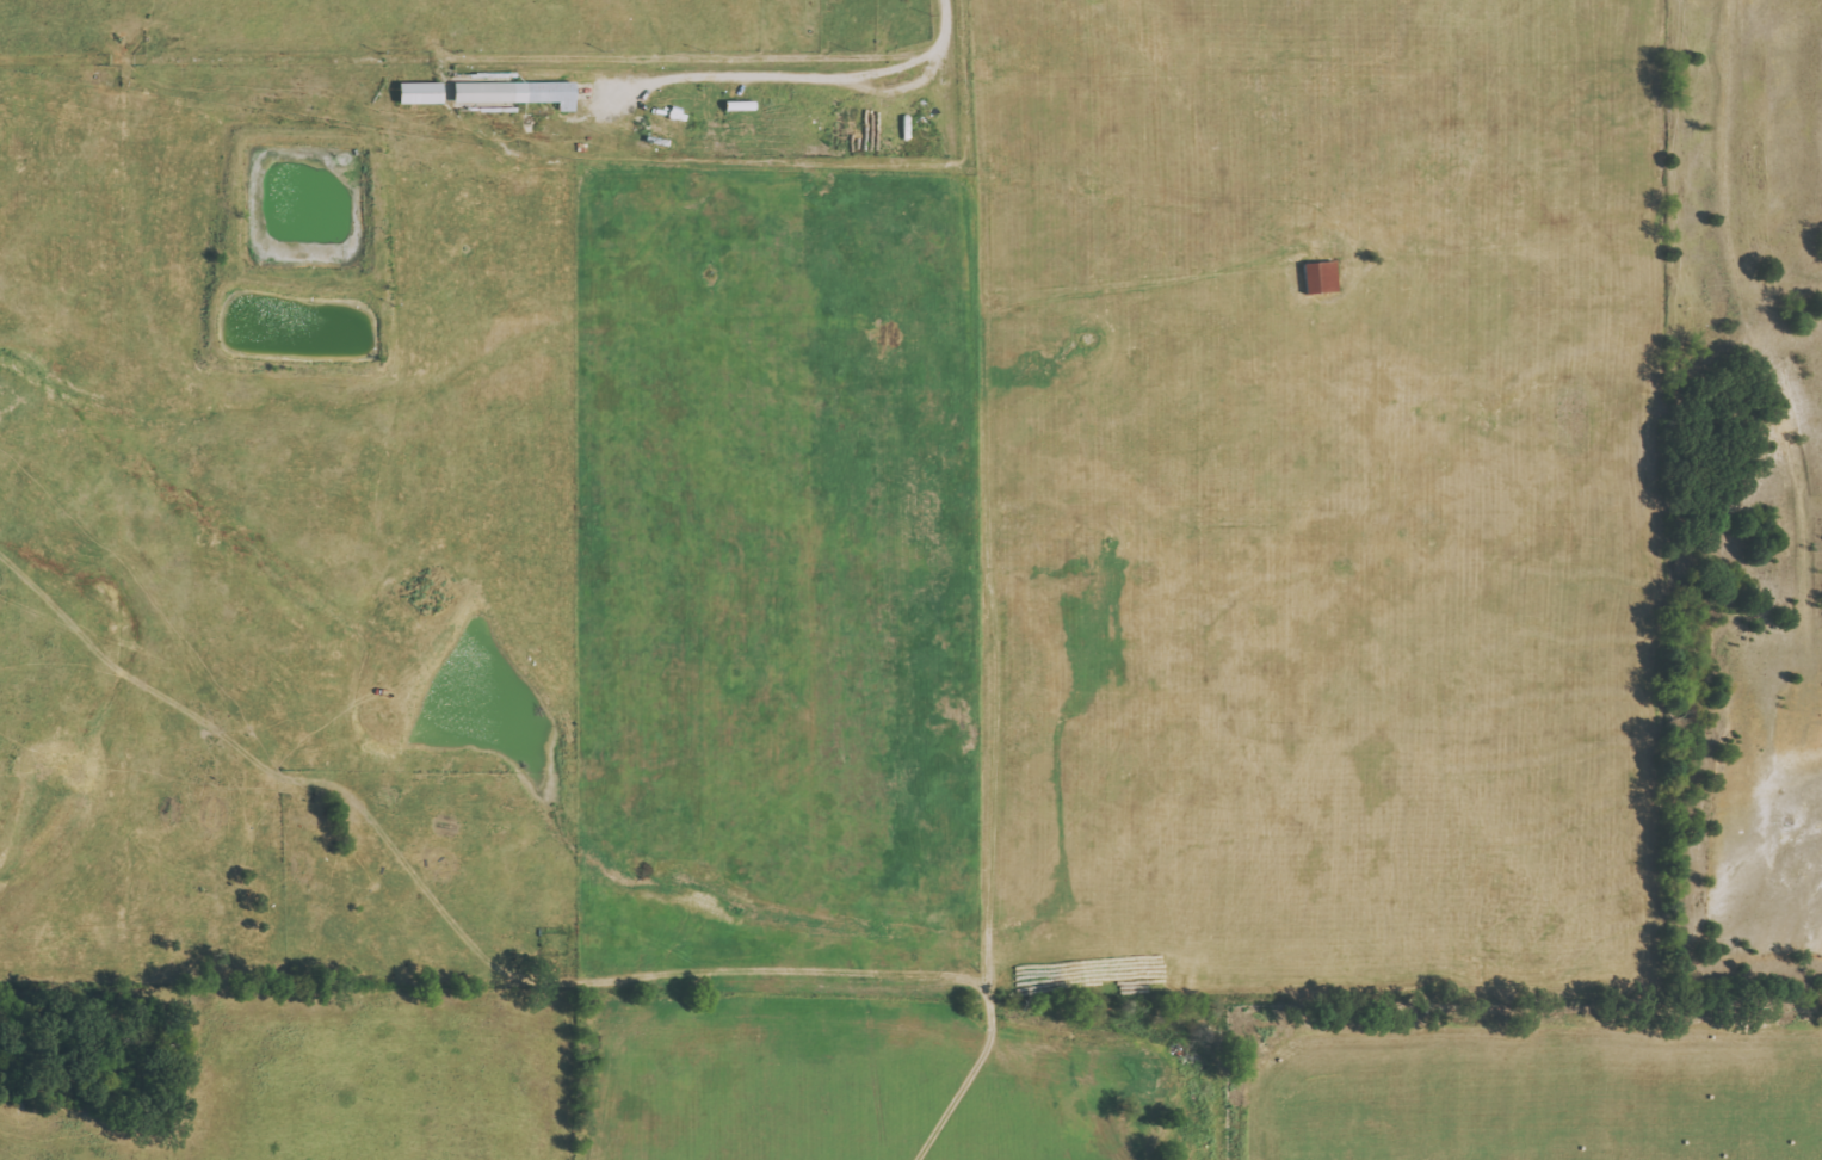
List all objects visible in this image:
road: (795, 72)
building: (511, 90)
building: (420, 92)
building: (1321, 277)

